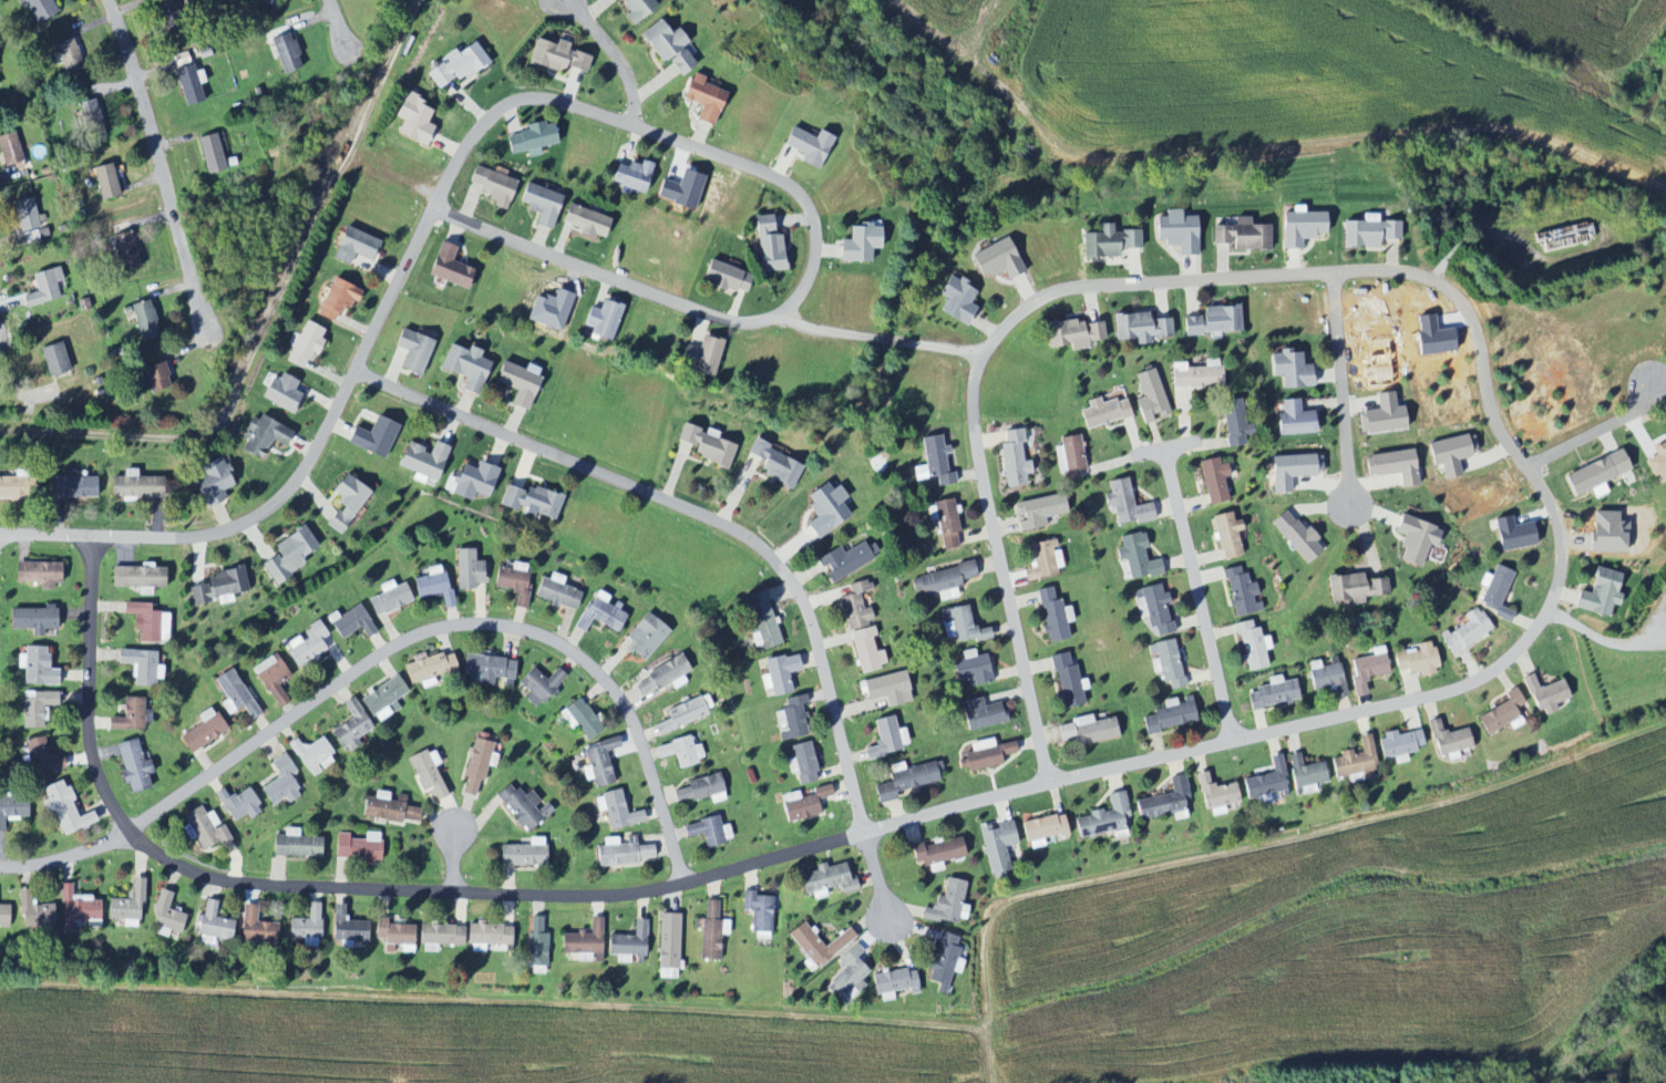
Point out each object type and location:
building: (263, 2)
building: (162, 7)
building: (38, 9)
building: (637, 10)
road: (338, 24)
building: (667, 47)
building: (284, 52)
road: (617, 53)
building: (558, 56)
building: (68, 58)
building: (454, 65)
building: (188, 83)
building: (701, 97)
road: (587, 109)
building: (90, 118)
building: (412, 118)
building: (531, 138)
building: (806, 146)
building: (9, 151)
building: (209, 153)
road: (161, 164)
building: (630, 175)
building: (103, 180)
building: (490, 186)
building: (539, 204)
building: (25, 214)
building: (585, 221)
building: (1298, 227)
building: (1175, 231)
building: (1367, 231)
building: (1241, 235)
building: (1562, 237)
building: (1107, 241)
building: (858, 244)
building: (767, 245)
building: (351, 246)
building: (124, 250)
building: (995, 260)
building: (449, 267)
building: (724, 277)
building: (43, 286)
building: (335, 299)
building: (955, 300)
building: (600, 319)
building: (142, 320)
building: (1212, 320)
building: (1139, 327)
building: (1073, 333)
road: (882, 337)
building: (304, 344)
building: (411, 351)
building: (701, 355)
building: (52, 359)
building: (464, 364)
building: (1289, 369)
building: (1195, 375)
building: (153, 378)
building: (516, 382)
road: (1344, 390)
building: (279, 392)
building: (1149, 396)
building: (1102, 412)
building: (1381, 414)
building: (1293, 419)
building: (1233, 423)
road: (1596, 430)
building: (260, 436)
building: (371, 437)
building: (705, 446)
building: (1450, 453)
building: (1069, 457)
building: (1012, 458)
building: (422, 462)
building: (933, 462)
building: (1658, 462)
building: (773, 464)
building: (1391, 466)
building: (1288, 471)
building: (1594, 475)
building: (1212, 479)
building: (469, 481)
building: (213, 482)
building: (16, 484)
building: (71, 486)
building: (134, 487)
building: (343, 501)
building: (529, 501)
building: (1124, 503)
building: (823, 509)
building: (1039, 512)
road: (702, 515)
building: (944, 523)
building: (1608, 532)
building: (1511, 534)
road: (47, 535)
building: (1226, 535)
building: (1294, 535)
building: (1412, 539)
building: (287, 555)
building: (1134, 557)
building: (1042, 559)
building: (844, 560)
building: (466, 570)
building: (35, 574)
building: (136, 578)
building: (943, 581)
building: (512, 584)
building: (432, 586)
building: (217, 587)
building: (1354, 588)
road: (1199, 590)
building: (556, 591)
building: (1240, 592)
building: (1495, 592)
building: (1598, 592)
building: (388, 598)
road: (1009, 598)
building: (854, 607)
building: (1152, 608)
building: (599, 612)
road: (1655, 613)
building: (1050, 616)
building: (30, 619)
building: (759, 621)
building: (148, 622)
building: (349, 622)
road: (455, 623)
building: (960, 626)
building: (1466, 631)
road: (1657, 635)
building: (644, 637)
road: (1595, 639)
building: (305, 644)
building: (1252, 644)
building: (864, 649)
building: (1416, 660)
building: (1165, 662)
building: (138, 666)
building: (35, 667)
building: (428, 667)
building: (485, 669)
building: (971, 670)
building: (1366, 671)
building: (778, 674)
building: (662, 675)
building: (270, 677)
building: (1326, 678)
building: (1066, 681)
building: (538, 685)
building: (887, 689)
building: (1272, 693)
building: (234, 694)
building: (1545, 695)
building: (382, 699)
building: (37, 709)
building: (685, 713)
building: (1501, 713)
building: (980, 714)
building: (127, 715)
building: (1170, 716)
building: (578, 719)
building: (790, 719)
building: (350, 726)
building: (1088, 730)
building: (202, 731)
building: (886, 739)
building: (1448, 740)
building: (1398, 745)
building: (681, 751)
building: (310, 754)
building: (40, 756)
building: (985, 756)
road: (1148, 759)
building: (597, 762)
building: (1355, 762)
building: (479, 763)
building: (800, 763)
building: (131, 766)
building: (428, 772)
building: (1305, 774)
building: (904, 781)
building: (1266, 781)
building: (279, 782)
building: (700, 790)
building: (1216, 795)
building: (1164, 802)
building: (802, 803)
building: (238, 804)
building: (521, 806)
building: (388, 807)
building: (64, 808)
building: (11, 809)
building: (616, 811)
building: (1103, 817)
building: (202, 828)
building: (1041, 829)
building: (708, 831)
building: (294, 845)
building: (996, 846)
building: (357, 847)
building: (936, 854)
building: (522, 855)
road: (68, 856)
road: (454, 856)
road: (876, 874)
building: (824, 880)
building: (948, 904)
building: (126, 906)
building: (75, 908)
building: (757, 914)
building: (2, 915)
building: (33, 915)
building: (165, 916)
building: (213, 925)
building: (256, 927)
building: (306, 927)
building: (348, 930)
building: (709, 931)
building: (395, 935)
building: (440, 937)
building: (486, 937)
building: (583, 941)
building: (535, 943)
building: (625, 943)
building: (667, 943)
building: (816, 943)
building: (942, 961)
building: (850, 972)
building: (894, 983)

